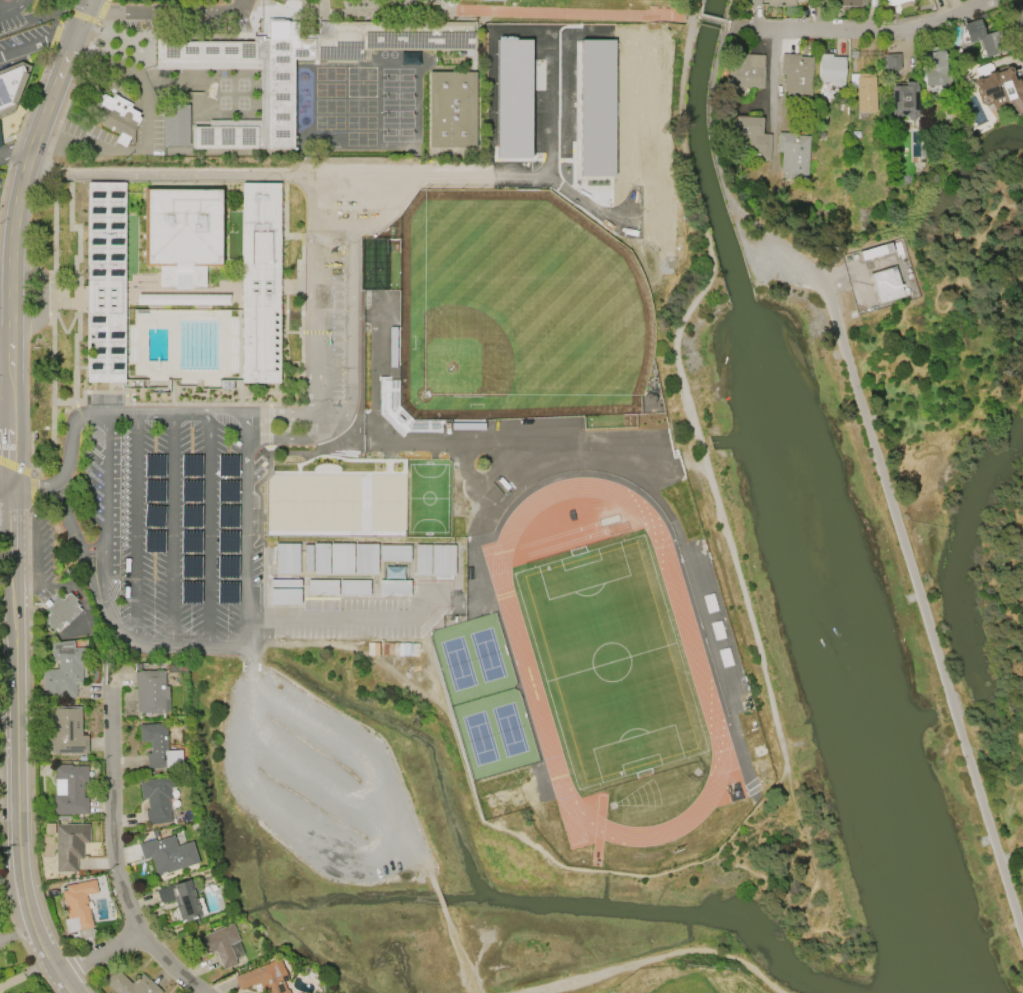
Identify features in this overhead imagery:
building: (284, 1)
building: (754, 2)
building: (893, 2)
building: (780, 3)
building: (847, 3)
road: (60, 4)
road: (10, 6)
road: (85, 6)
road: (1020, 7)
road: (699, 8)
track: (567, 11)
traffic signals: (83, 12)
road: (166, 12)
parking lot: (11, 13)
road: (711, 17)
road: (730, 17)
road: (79, 22)
road: (726, 23)
traffic signals: (75, 32)
road: (861, 32)
road: (36, 38)
building: (981, 38)
road: (69, 45)
building: (891, 62)
building: (830, 69)
building: (934, 70)
building: (746, 71)
building: (796, 74)
road: (682, 76)
road: (771, 81)
building: (11, 88)
building: (999, 91)
building: (863, 92)
building: (277, 97)
park: (574, 98)
building: (903, 100)
building: (451, 110)
building: (117, 118)
building: (175, 125)
road: (146, 131)
building: (752, 138)
road: (12, 151)
building: (792, 155)
parking lot: (1, 176)
road: (183, 177)
building: (342, 191)
road: (70, 205)
road: (285, 215)
building: (181, 232)
road: (8, 269)
building: (104, 280)
building: (259, 282)
building: (886, 285)
road: (318, 295)
park: (513, 311)
road: (360, 316)
parking lot: (323, 320)
road: (78, 322)
road: (3, 355)
road: (261, 404)
road: (281, 411)
road: (336, 411)
road: (156, 412)
road: (228, 412)
road: (315, 423)
road: (70, 436)
road: (282, 441)
road: (502, 447)
road: (881, 463)
road: (33, 487)
road: (4, 488)
park: (427, 498)
river: (800, 499)
park: (387, 502)
park: (280, 503)
park: (310, 503)
park: (343, 503)
road: (103, 506)
road: (485, 509)
road: (248, 514)
road: (8, 521)
road: (134, 527)
road: (170, 528)
road: (209, 529)
parking lot: (198, 533)
road: (79, 543)
road: (728, 545)
road: (4, 546)
road: (37, 566)
building: (358, 569)
building: (60, 612)
road: (336, 617)
road: (250, 632)
road: (165, 644)
park: (611, 663)
track: (523, 667)
building: (63, 670)
road: (7, 686)
building: (150, 692)
building: (66, 730)
building: (158, 747)
road: (314, 775)
road: (16, 779)
building: (71, 790)
building: (156, 798)
road: (378, 839)
building: (69, 845)
building: (167, 854)
road: (112, 858)
road: (414, 858)
road: (546, 860)
building: (181, 899)
road: (439, 901)
building: (77, 910)
building: (217, 945)
building: (237, 952)
road: (458, 952)
road: (98, 953)
road: (660, 959)
building: (263, 978)
building: (129, 984)
park: (688, 989)

